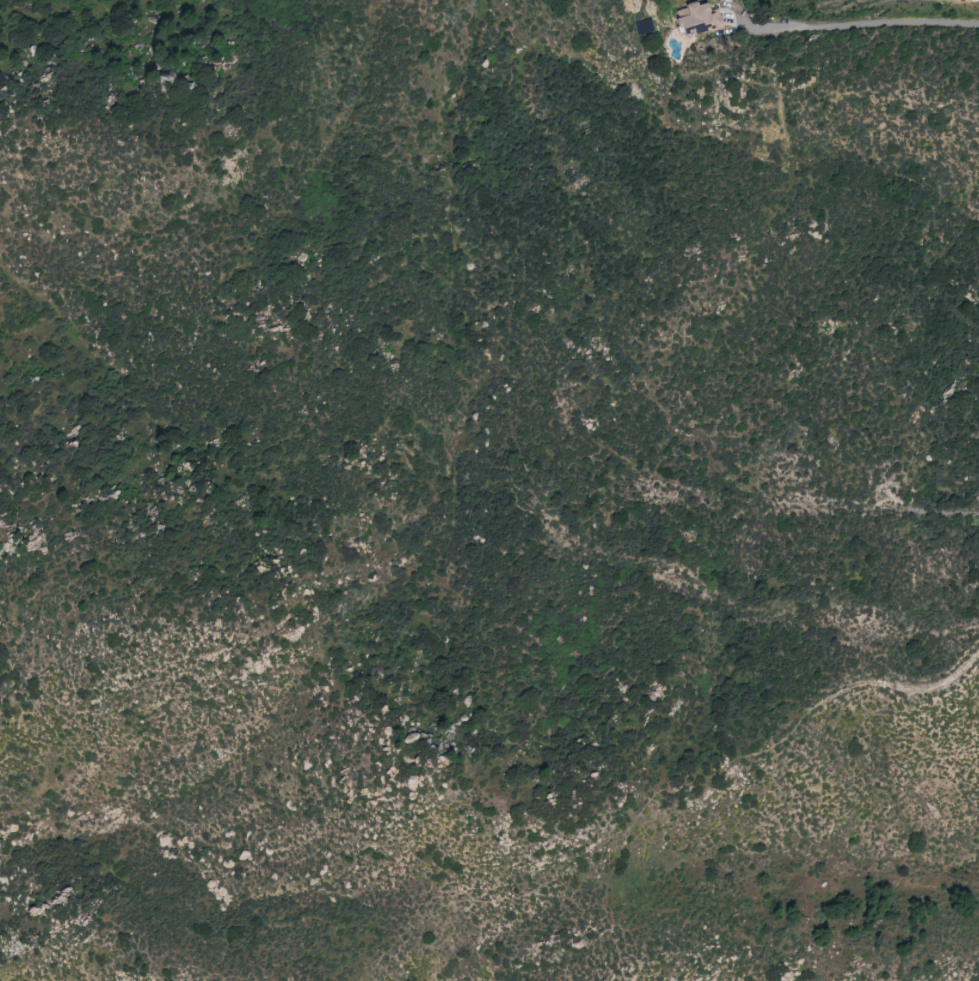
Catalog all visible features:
road: (870, 13)
building: (703, 20)

